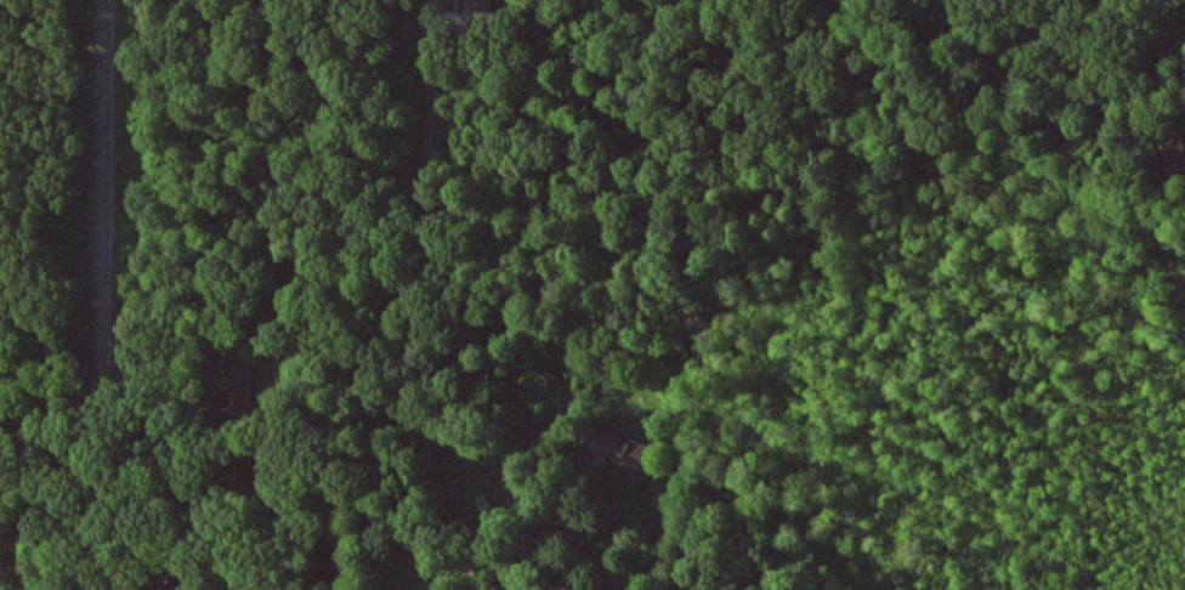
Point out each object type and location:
building: (478, 1)
road: (431, 112)
building: (1173, 159)
road: (107, 175)
road: (476, 189)
building: (240, 382)
road: (56, 396)
road: (516, 414)
building: (623, 452)
road: (112, 470)
road: (277, 475)
road: (495, 552)
road: (430, 589)
road: (432, 589)

